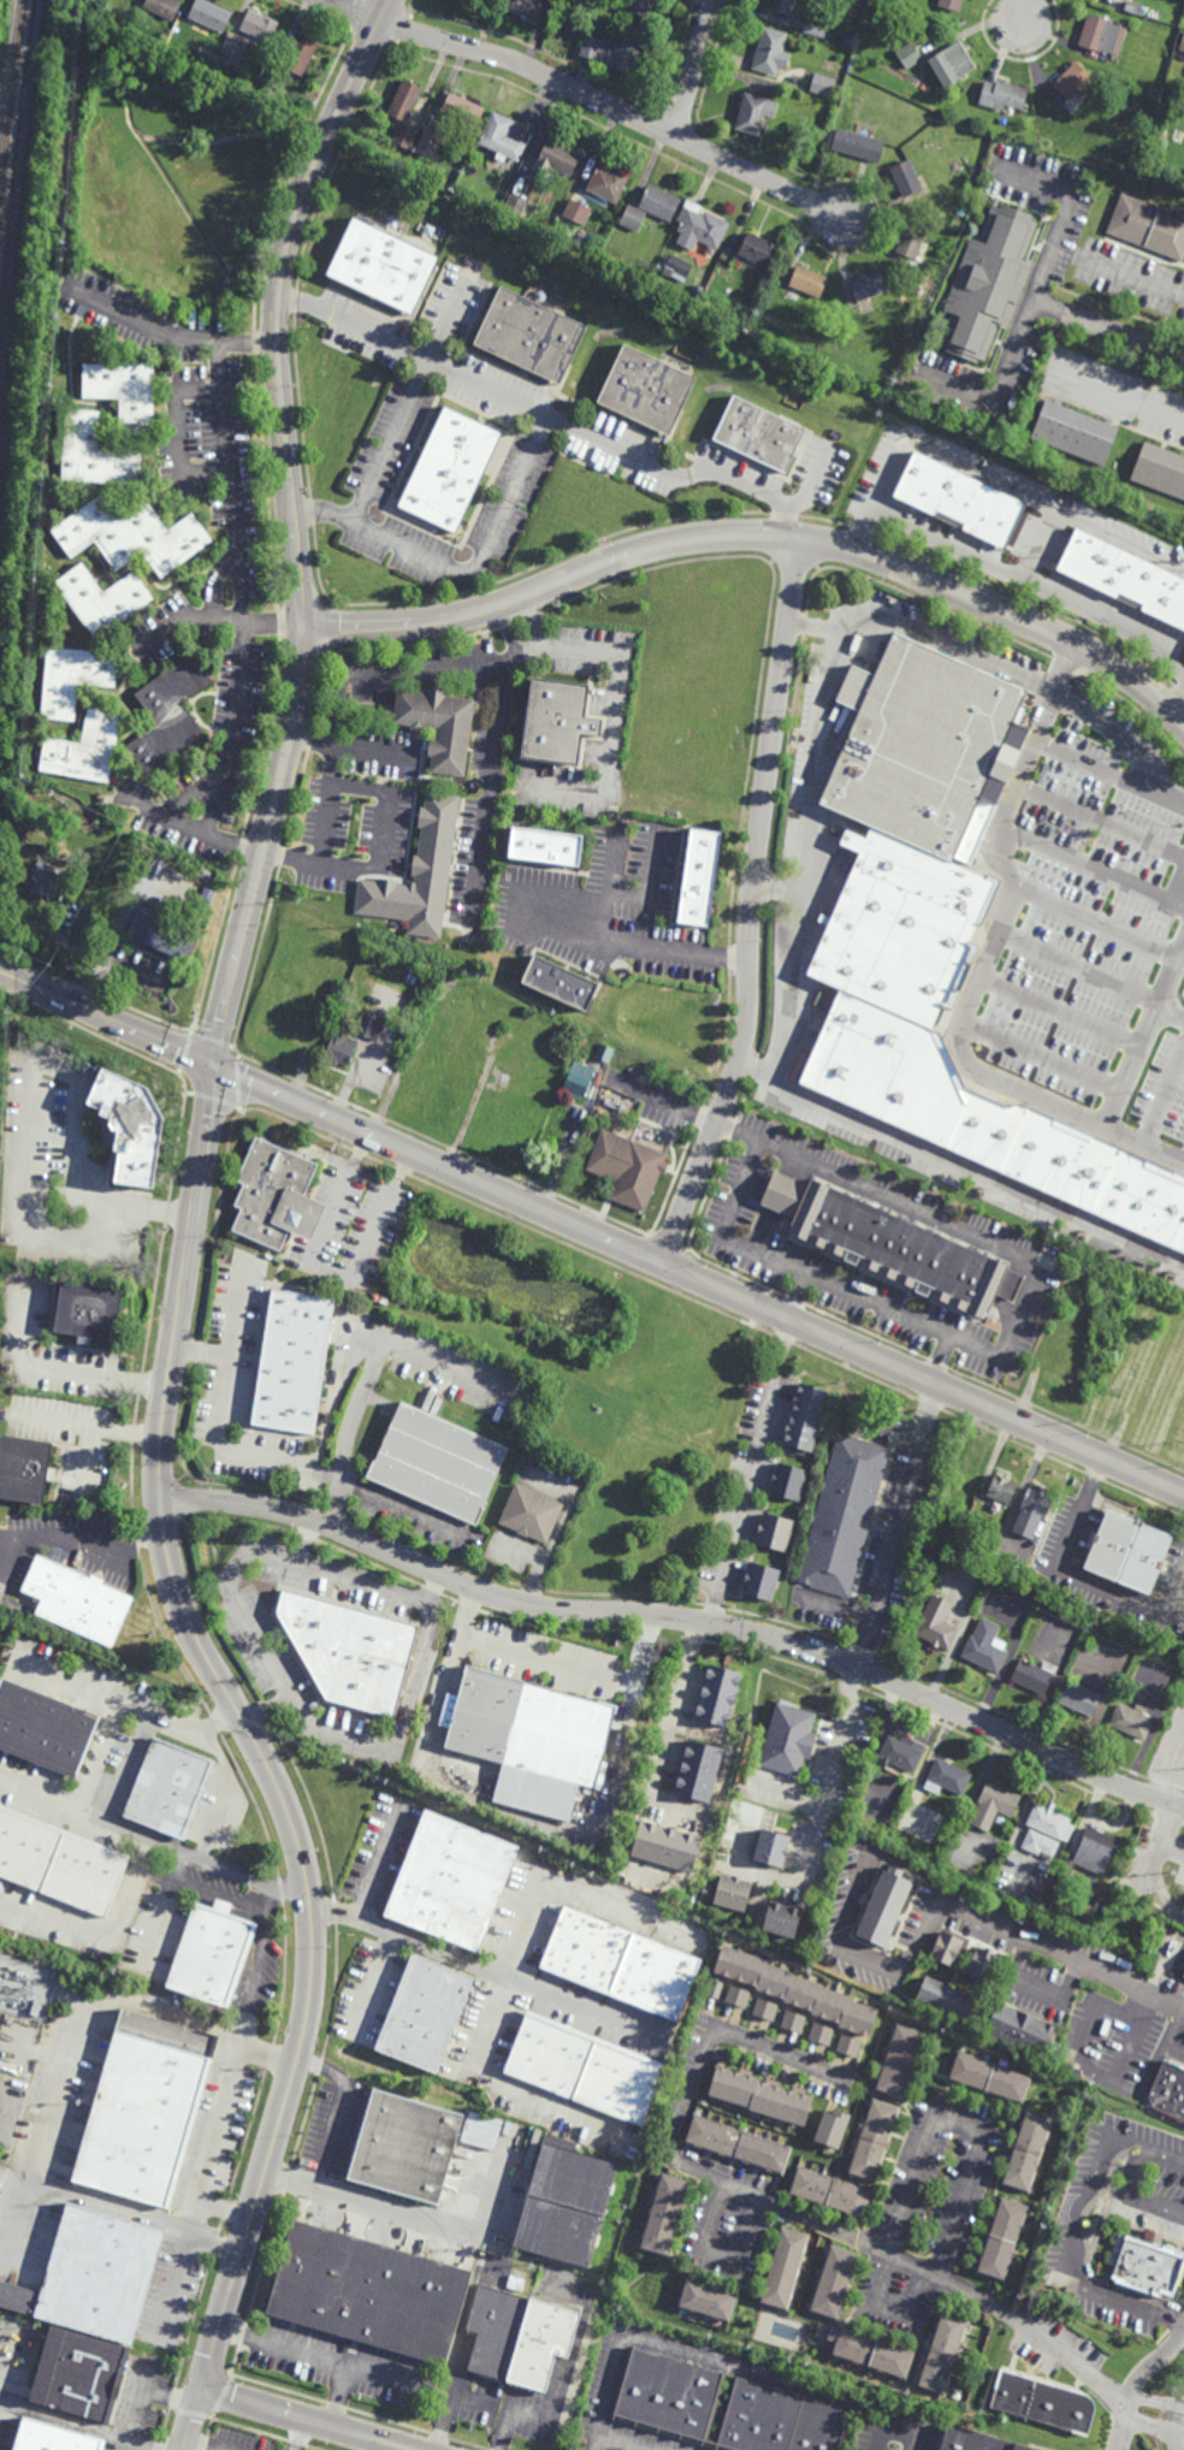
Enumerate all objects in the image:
building: (464, 0)
building: (468, 0)
building: (1117, 0)
building: (491, 5)
building: (952, 5)
building: (162, 8)
building: (525, 8)
building: (782, 8)
building: (1136, 10)
road: (1026, 11)
building: (639, 12)
building: (211, 18)
building: (260, 28)
building: (812, 31)
building: (1103, 35)
building: (164, 39)
building: (1182, 43)
building: (614, 49)
building: (233, 51)
building: (771, 52)
building: (302, 54)
building: (908, 54)
building: (952, 63)
building: (207, 64)
road: (694, 69)
building: (1073, 79)
building: (823, 84)
building: (1171, 90)
building: (1004, 94)
building: (403, 99)
road: (592, 99)
railway: (10, 102)
building: (462, 107)
building: (756, 110)
building: (404, 135)
building: (504, 135)
building: (428, 141)
building: (859, 143)
building: (558, 155)
railway: (11, 158)
building: (907, 177)
building: (609, 181)
building: (984, 199)
building: (519, 206)
building: (651, 206)
building: (578, 211)
building: (964, 212)
road: (1064, 213)
building: (701, 226)
building: (1149, 226)
building: (912, 239)
building: (758, 249)
building: (729, 254)
building: (381, 264)
building: (680, 265)
building: (898, 267)
building: (721, 268)
road: (1132, 278)
building: (807, 280)
building: (989, 282)
building: (869, 285)
building: (700, 289)
building: (919, 290)
road: (144, 322)
building: (911, 331)
building: (531, 333)
road: (1124, 337)
road: (248, 344)
road: (1008, 371)
building: (647, 389)
building: (125, 393)
road: (1167, 414)
road: (547, 416)
road: (178, 432)
building: (1075, 433)
building: (759, 434)
road: (391, 439)
building: (95, 454)
building: (450, 469)
building: (1160, 469)
road: (989, 478)
road: (813, 483)
building: (960, 501)
building: (134, 535)
road: (760, 535)
road: (983, 562)
road: (458, 569)
building: (1124, 578)
building: (103, 600)
road: (188, 617)
road: (1109, 619)
road: (242, 620)
road: (272, 627)
road: (527, 647)
road: (994, 664)
building: (73, 680)
road: (505, 692)
road: (614, 697)
road: (1177, 705)
road: (333, 712)
building: (170, 714)
building: (560, 724)
building: (438, 728)
road: (309, 740)
building: (924, 747)
building: (85, 750)
road: (1108, 775)
road: (815, 783)
road: (1100, 822)
building: (546, 847)
road: (481, 848)
road: (290, 859)
road: (1093, 865)
road: (614, 869)
building: (418, 874)
building: (923, 874)
building: (699, 878)
building: (51, 880)
road: (1176, 881)
building: (208, 895)
road: (644, 901)
road: (751, 906)
road: (1099, 923)
building: (165, 930)
road: (635, 946)
building: (894, 951)
road: (983, 966)
road: (1079, 966)
road: (8, 971)
building: (561, 982)
road: (791, 984)
road: (1060, 1012)
road: (1170, 1017)
building: (372, 1028)
building: (341, 1040)
road: (1144, 1040)
building: (603, 1052)
road: (1041, 1058)
building: (641, 1069)
building: (579, 1079)
building: (615, 1094)
road: (1164, 1100)
building: (984, 1123)
building: (130, 1125)
road: (24, 1131)
building: (627, 1168)
road: (959, 1168)
building: (277, 1195)
road: (196, 1202)
road: (958, 1229)
road: (599, 1236)
building: (888, 1244)
road: (793, 1266)
road: (330, 1274)
building: (1012, 1285)
road: (795, 1295)
building: (384, 1301)
building: (89, 1312)
road: (201, 1353)
building: (294, 1361)
road: (65, 1369)
road: (372, 1371)
road: (219, 1414)
building: (805, 1419)
road: (91, 1426)
building: (438, 1464)
building: (25, 1469)
road: (750, 1472)
building: (967, 1478)
building: (787, 1483)
building: (1004, 1491)
building: (969, 1499)
building: (965, 1510)
building: (1035, 1514)
building: (531, 1515)
building: (842, 1516)
building: (943, 1521)
road: (898, 1526)
building: (774, 1532)
road: (87, 1535)
building: (955, 1540)
building: (1148, 1551)
road: (1077, 1580)
building: (760, 1581)
building: (78, 1603)
building: (1049, 1605)
road: (679, 1616)
building: (937, 1626)
road: (262, 1647)
building: (985, 1649)
building: (353, 1651)
road: (546, 1659)
building: (1035, 1675)
road: (73, 1681)
building: (717, 1694)
building: (1081, 1697)
road: (128, 1706)
road: (266, 1708)
building: (1132, 1720)
building: (45, 1724)
building: (531, 1735)
building: (788, 1738)
road: (665, 1741)
building: (902, 1750)
road: (1172, 1765)
building: (699, 1769)
building: (942, 1779)
building: (171, 1786)
road: (225, 1792)
road: (682, 1799)
building: (994, 1804)
road: (712, 1809)
road: (525, 1818)
building: (1001, 1821)
building: (1050, 1821)
road: (813, 1834)
road: (1159, 1834)
road: (155, 1840)
building: (1040, 1842)
building: (667, 1844)
building: (771, 1846)
building: (1093, 1852)
building: (60, 1859)
road: (631, 1864)
road: (378, 1869)
building: (451, 1878)
road: (563, 1887)
building: (734, 1890)
road: (220, 1894)
building: (1032, 1902)
building: (886, 1905)
building: (782, 1917)
road: (103, 1933)
road: (839, 1933)
building: (947, 1947)
building: (214, 1952)
road: (1059, 1952)
building: (621, 1961)
building: (984, 1964)
road: (483, 1973)
building: (1183, 1976)
building: (1183, 1977)
road: (374, 1982)
building: (714, 1989)
building: (793, 1989)
building: (736, 1998)
building: (947, 1998)
building: (36, 2006)
building: (764, 2010)
building: (425, 2012)
building: (792, 2022)
building: (1022, 2029)
road: (715, 2032)
building: (821, 2034)
road: (1173, 2037)
building: (847, 2044)
road: (1081, 2049)
road: (67, 2057)
road: (270, 2058)
building: (900, 2061)
building: (584, 2069)
road: (496, 2075)
building: (990, 2077)
building: (1168, 2090)
building: (758, 2095)
building: (147, 2108)
road: (342, 2112)
road: (225, 2118)
building: (830, 2129)
building: (480, 2131)
building: (874, 2141)
building: (738, 2143)
building: (403, 2146)
building: (1028, 2150)
road: (923, 2155)
building: (830, 2192)
road: (1130, 2202)
building: (567, 2205)
road: (226, 2212)
building: (664, 2214)
road: (136, 2218)
road: (409, 2218)
road: (828, 2226)
road: (1081, 2236)
building: (1004, 2239)
road: (718, 2256)
building: (1145, 2266)
building: (783, 2268)
building: (95, 2277)
building: (835, 2283)
building: (371, 2294)
building: (708, 2300)
road: (463, 2321)
building: (519, 2338)
road: (1, 2349)
building: (871, 2353)
road: (1062, 2353)
building: (943, 2354)
road: (327, 2357)
road: (704, 2365)
building: (81, 2377)
road: (1136, 2383)
road: (564, 2385)
road: (341, 2396)
building: (668, 2396)
road: (171, 2398)
road: (451, 2402)
building: (1042, 2403)
road: (141, 2405)
road: (1126, 2414)
road: (193, 2420)
road: (304, 2420)
building: (779, 2420)
road: (75, 2426)
road: (895, 2427)
building: (52, 2438)
building: (977, 2440)
road: (615, 2443)
road: (203, 2445)

